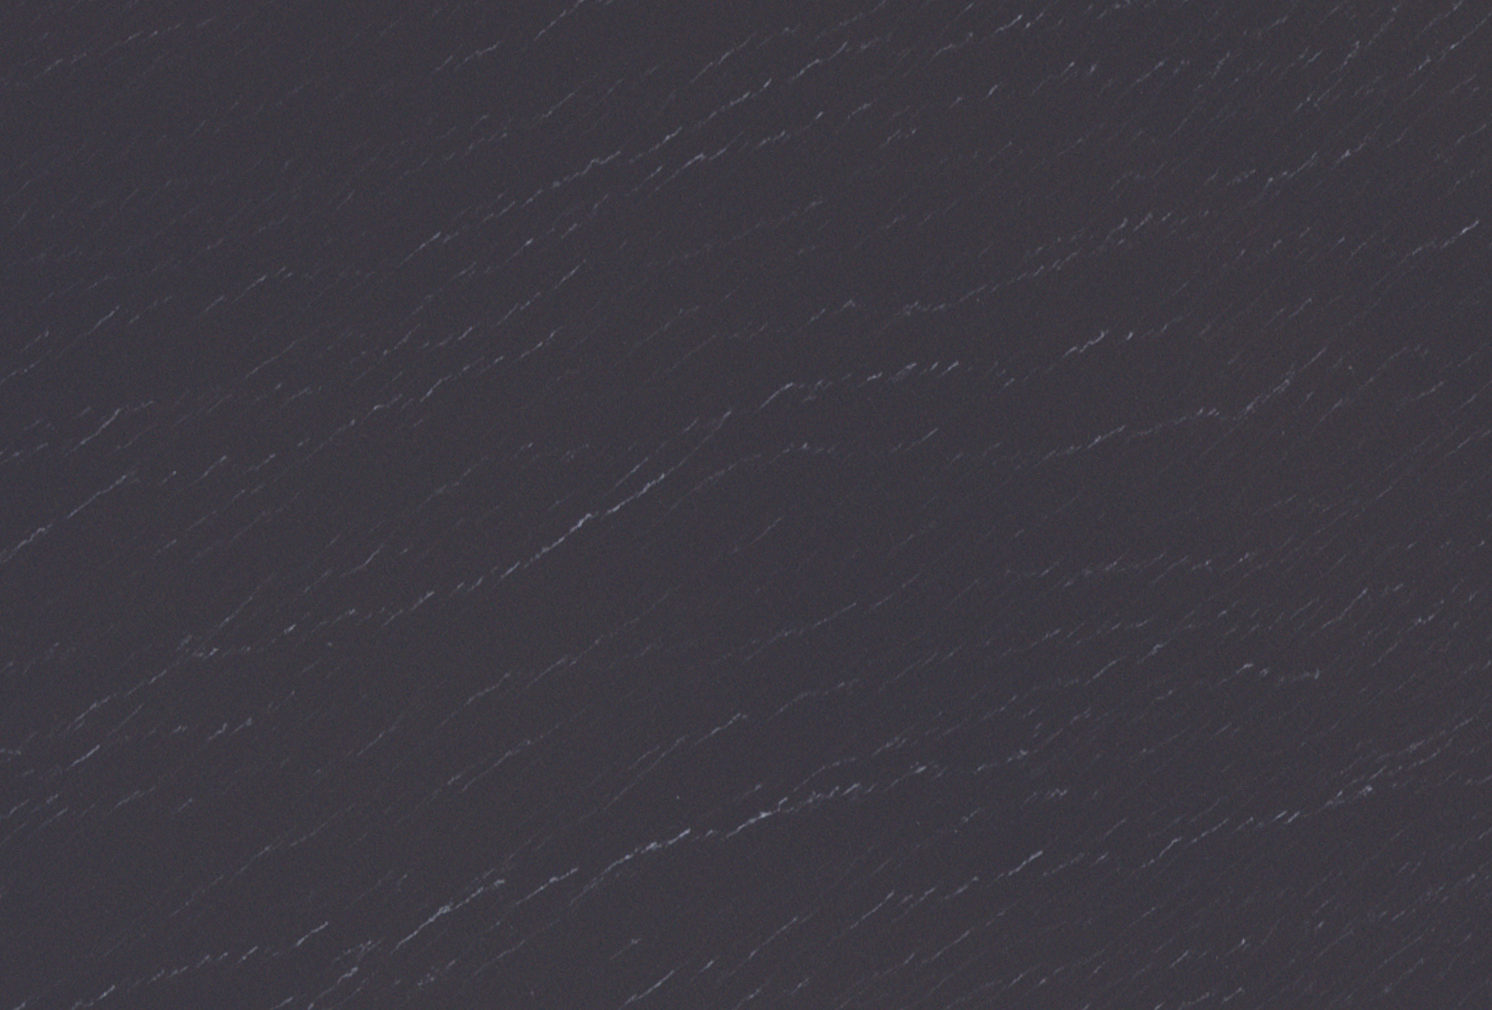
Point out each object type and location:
river: (1310, 505)

